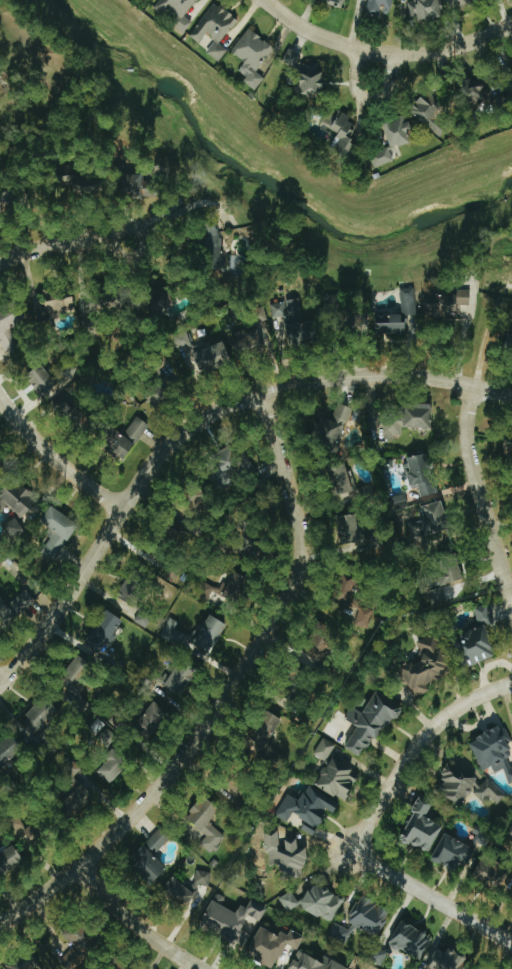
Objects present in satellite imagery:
building: (337, 3)
building: (380, 7)
building: (430, 9)
building: (177, 11)
building: (215, 30)
road: (323, 37)
road: (453, 47)
building: (253, 57)
building: (292, 59)
building: (312, 78)
building: (489, 93)
road: (368, 98)
building: (431, 114)
building: (342, 131)
building: (400, 132)
building: (382, 158)
building: (138, 186)
road: (179, 212)
road: (63, 243)
building: (218, 252)
building: (163, 300)
building: (445, 303)
building: (32, 315)
building: (398, 315)
building: (298, 322)
building: (356, 322)
road: (468, 336)
building: (183, 340)
building: (251, 341)
building: (214, 358)
building: (43, 381)
building: (73, 411)
building: (409, 420)
road: (194, 421)
building: (333, 426)
building: (137, 429)
building: (122, 446)
road: (54, 459)
building: (232, 465)
building: (422, 474)
building: (342, 480)
building: (363, 494)
building: (19, 499)
road: (479, 499)
road: (325, 506)
building: (436, 518)
building: (15, 529)
building: (351, 530)
building: (58, 533)
building: (454, 574)
building: (133, 589)
building: (348, 589)
building: (229, 590)
building: (436, 597)
building: (16, 607)
building: (364, 617)
building: (145, 618)
building: (105, 630)
building: (212, 634)
building: (177, 635)
building: (480, 639)
building: (426, 667)
building: (76, 674)
building: (182, 678)
road: (225, 694)
building: (83, 704)
building: (44, 717)
building: (153, 721)
building: (372, 724)
building: (268, 729)
building: (107, 738)
building: (325, 749)
road: (414, 749)
building: (494, 751)
building: (9, 752)
building: (113, 767)
building: (72, 768)
building: (338, 779)
building: (469, 786)
building: (80, 800)
building: (309, 810)
building: (207, 823)
building: (423, 828)
building: (20, 829)
building: (36, 832)
building: (481, 836)
building: (159, 840)
building: (453, 854)
building: (287, 855)
building: (11, 859)
building: (149, 865)
building: (492, 875)
building: (180, 892)
road: (430, 897)
building: (323, 902)
building: (370, 916)
building: (232, 919)
road: (134, 924)
building: (340, 933)
building: (412, 940)
building: (80, 945)
building: (273, 945)
building: (449, 960)
building: (25, 962)
building: (316, 962)
building: (484, 968)

